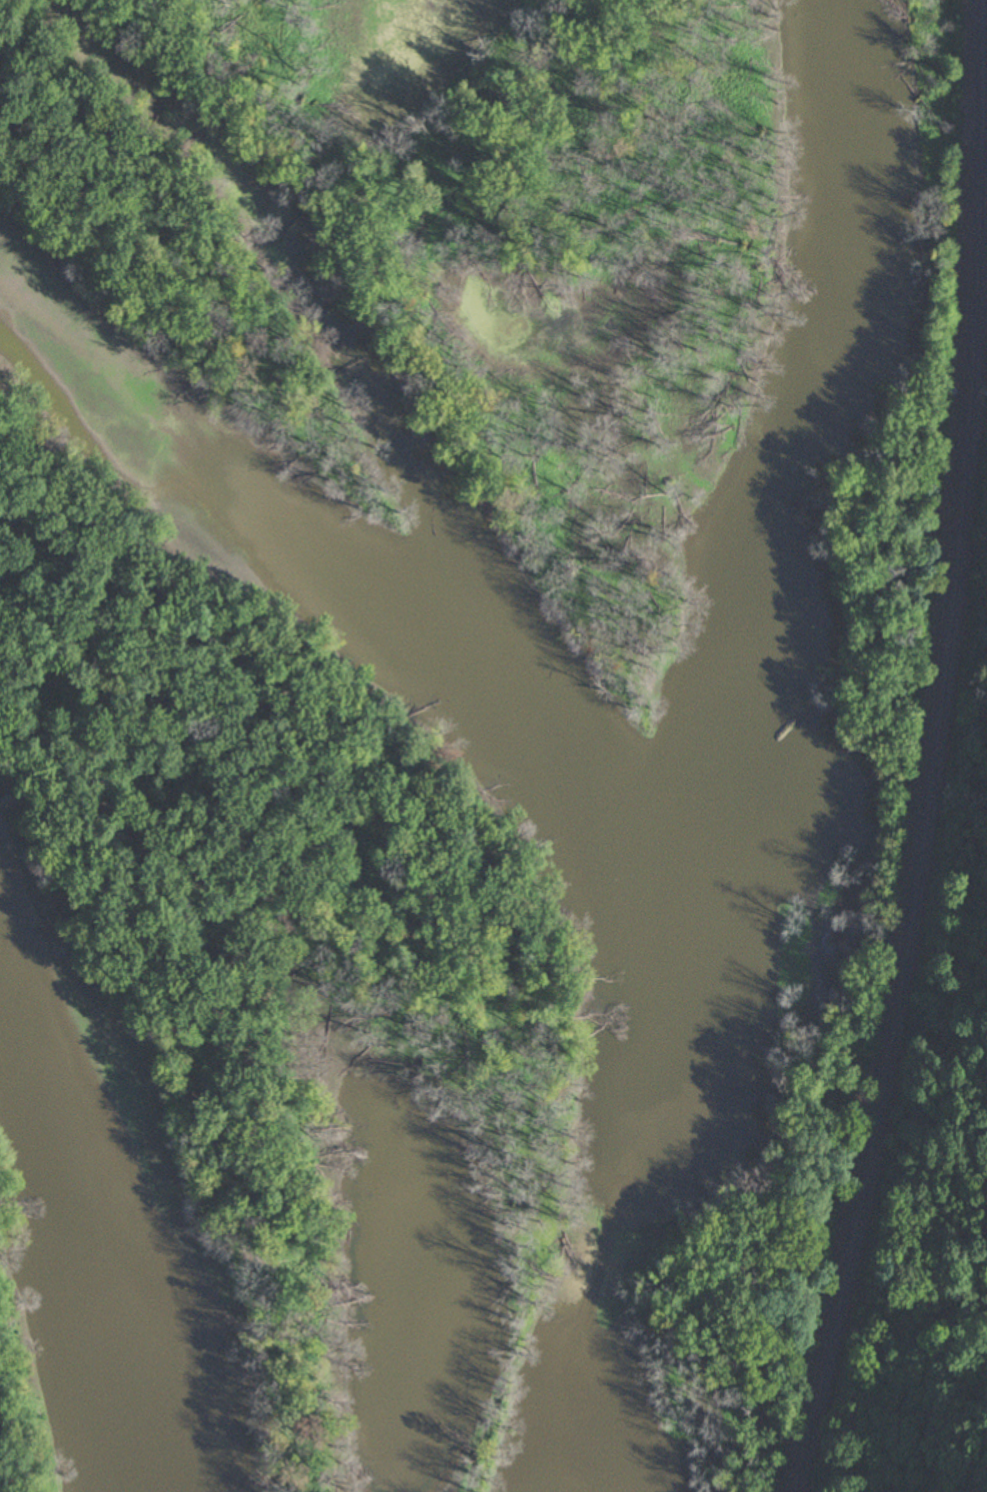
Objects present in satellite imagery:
railway: (986, 1)
railway: (934, 752)
railway: (939, 867)

